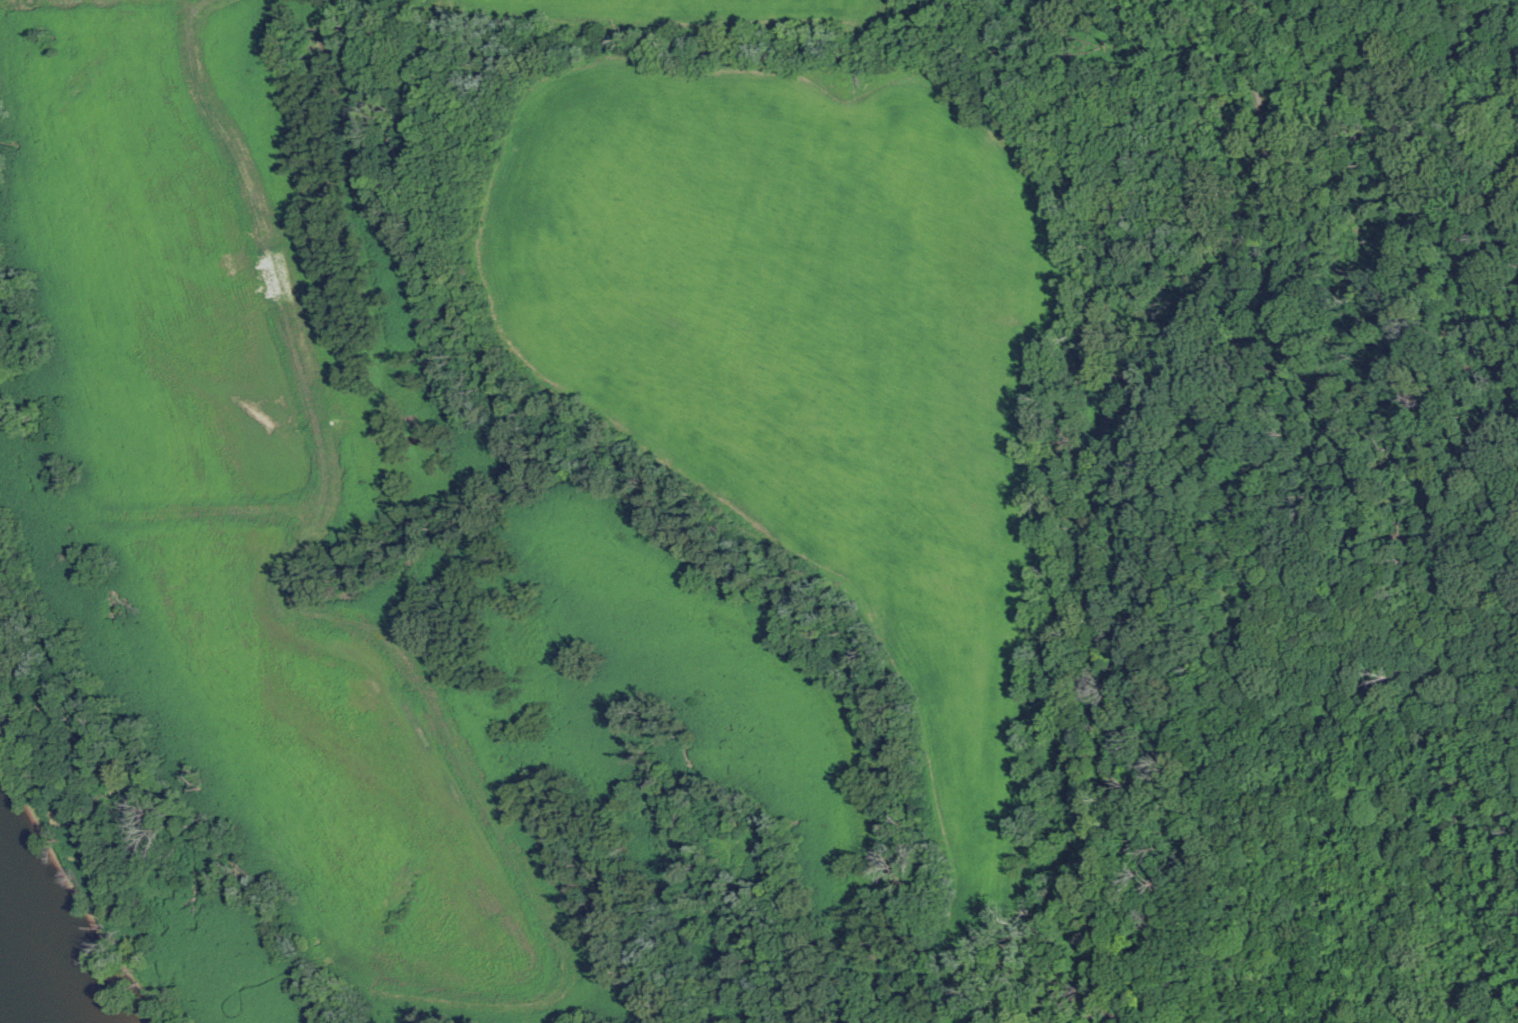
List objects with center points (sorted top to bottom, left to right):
river: (30, 968)

